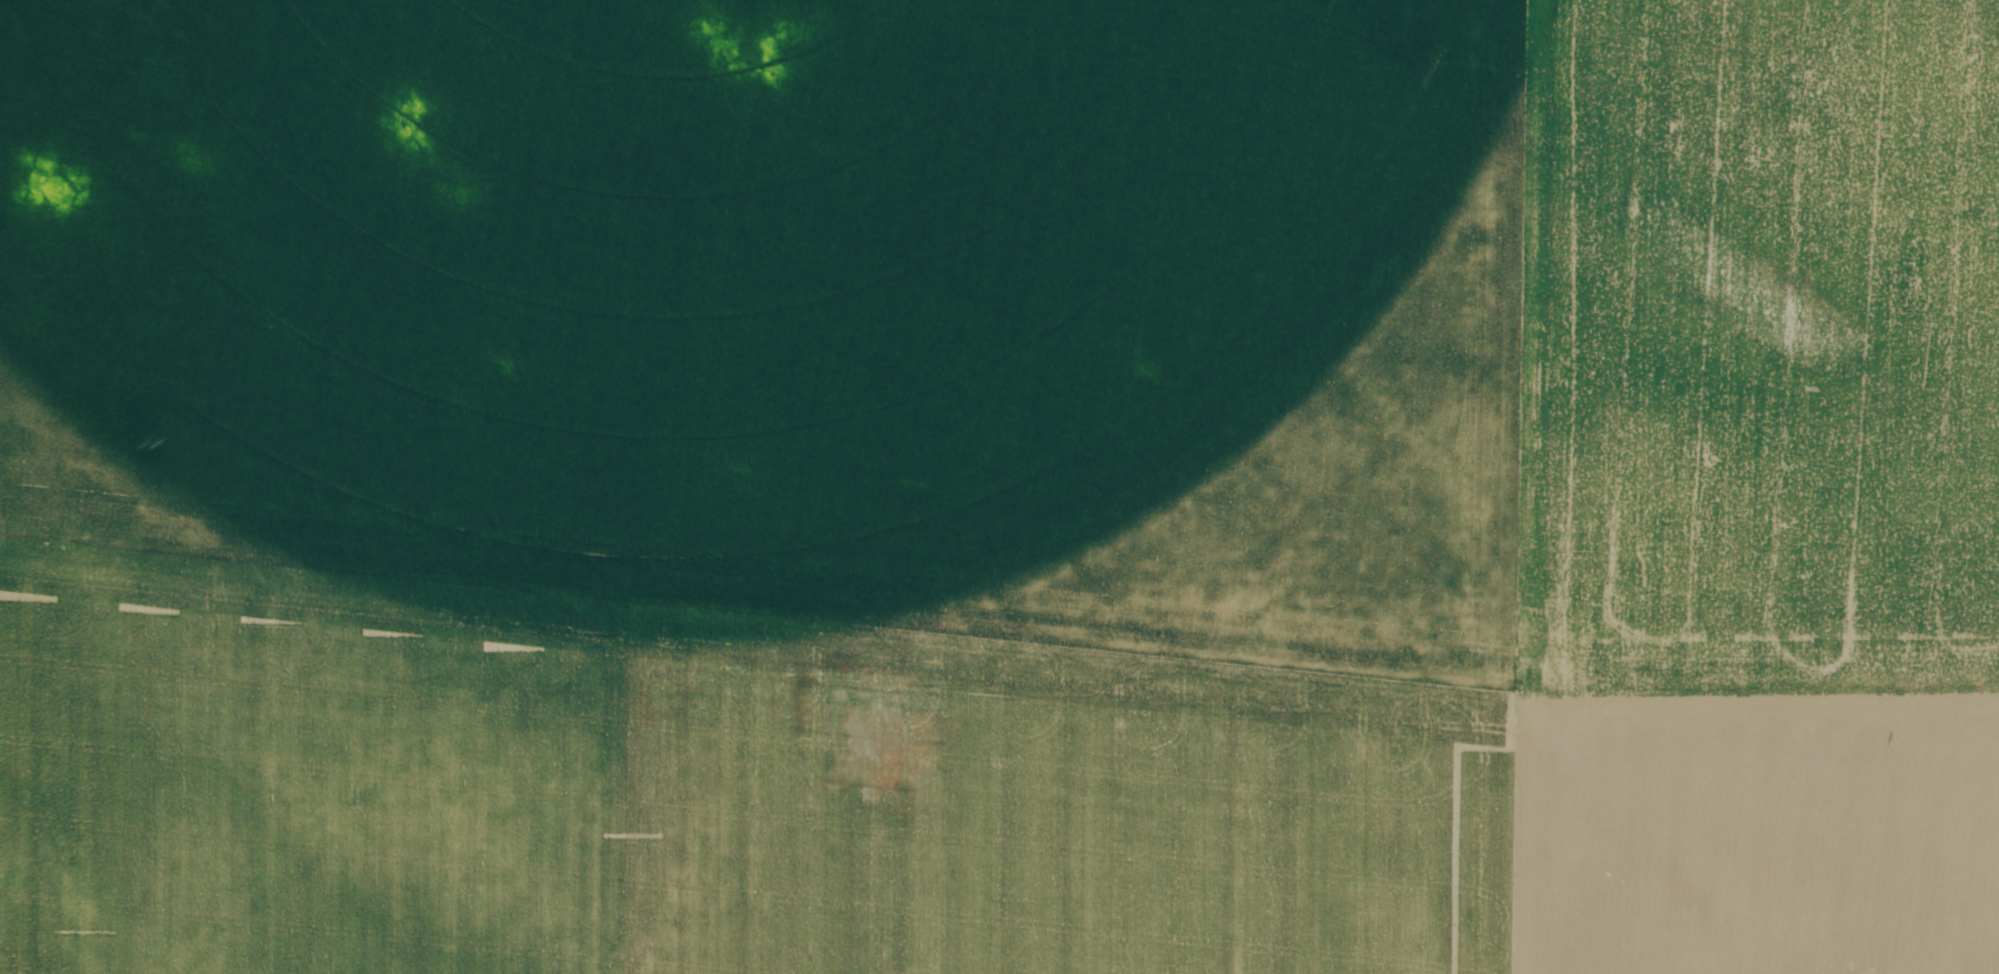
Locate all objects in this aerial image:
crop: (999, 487)

